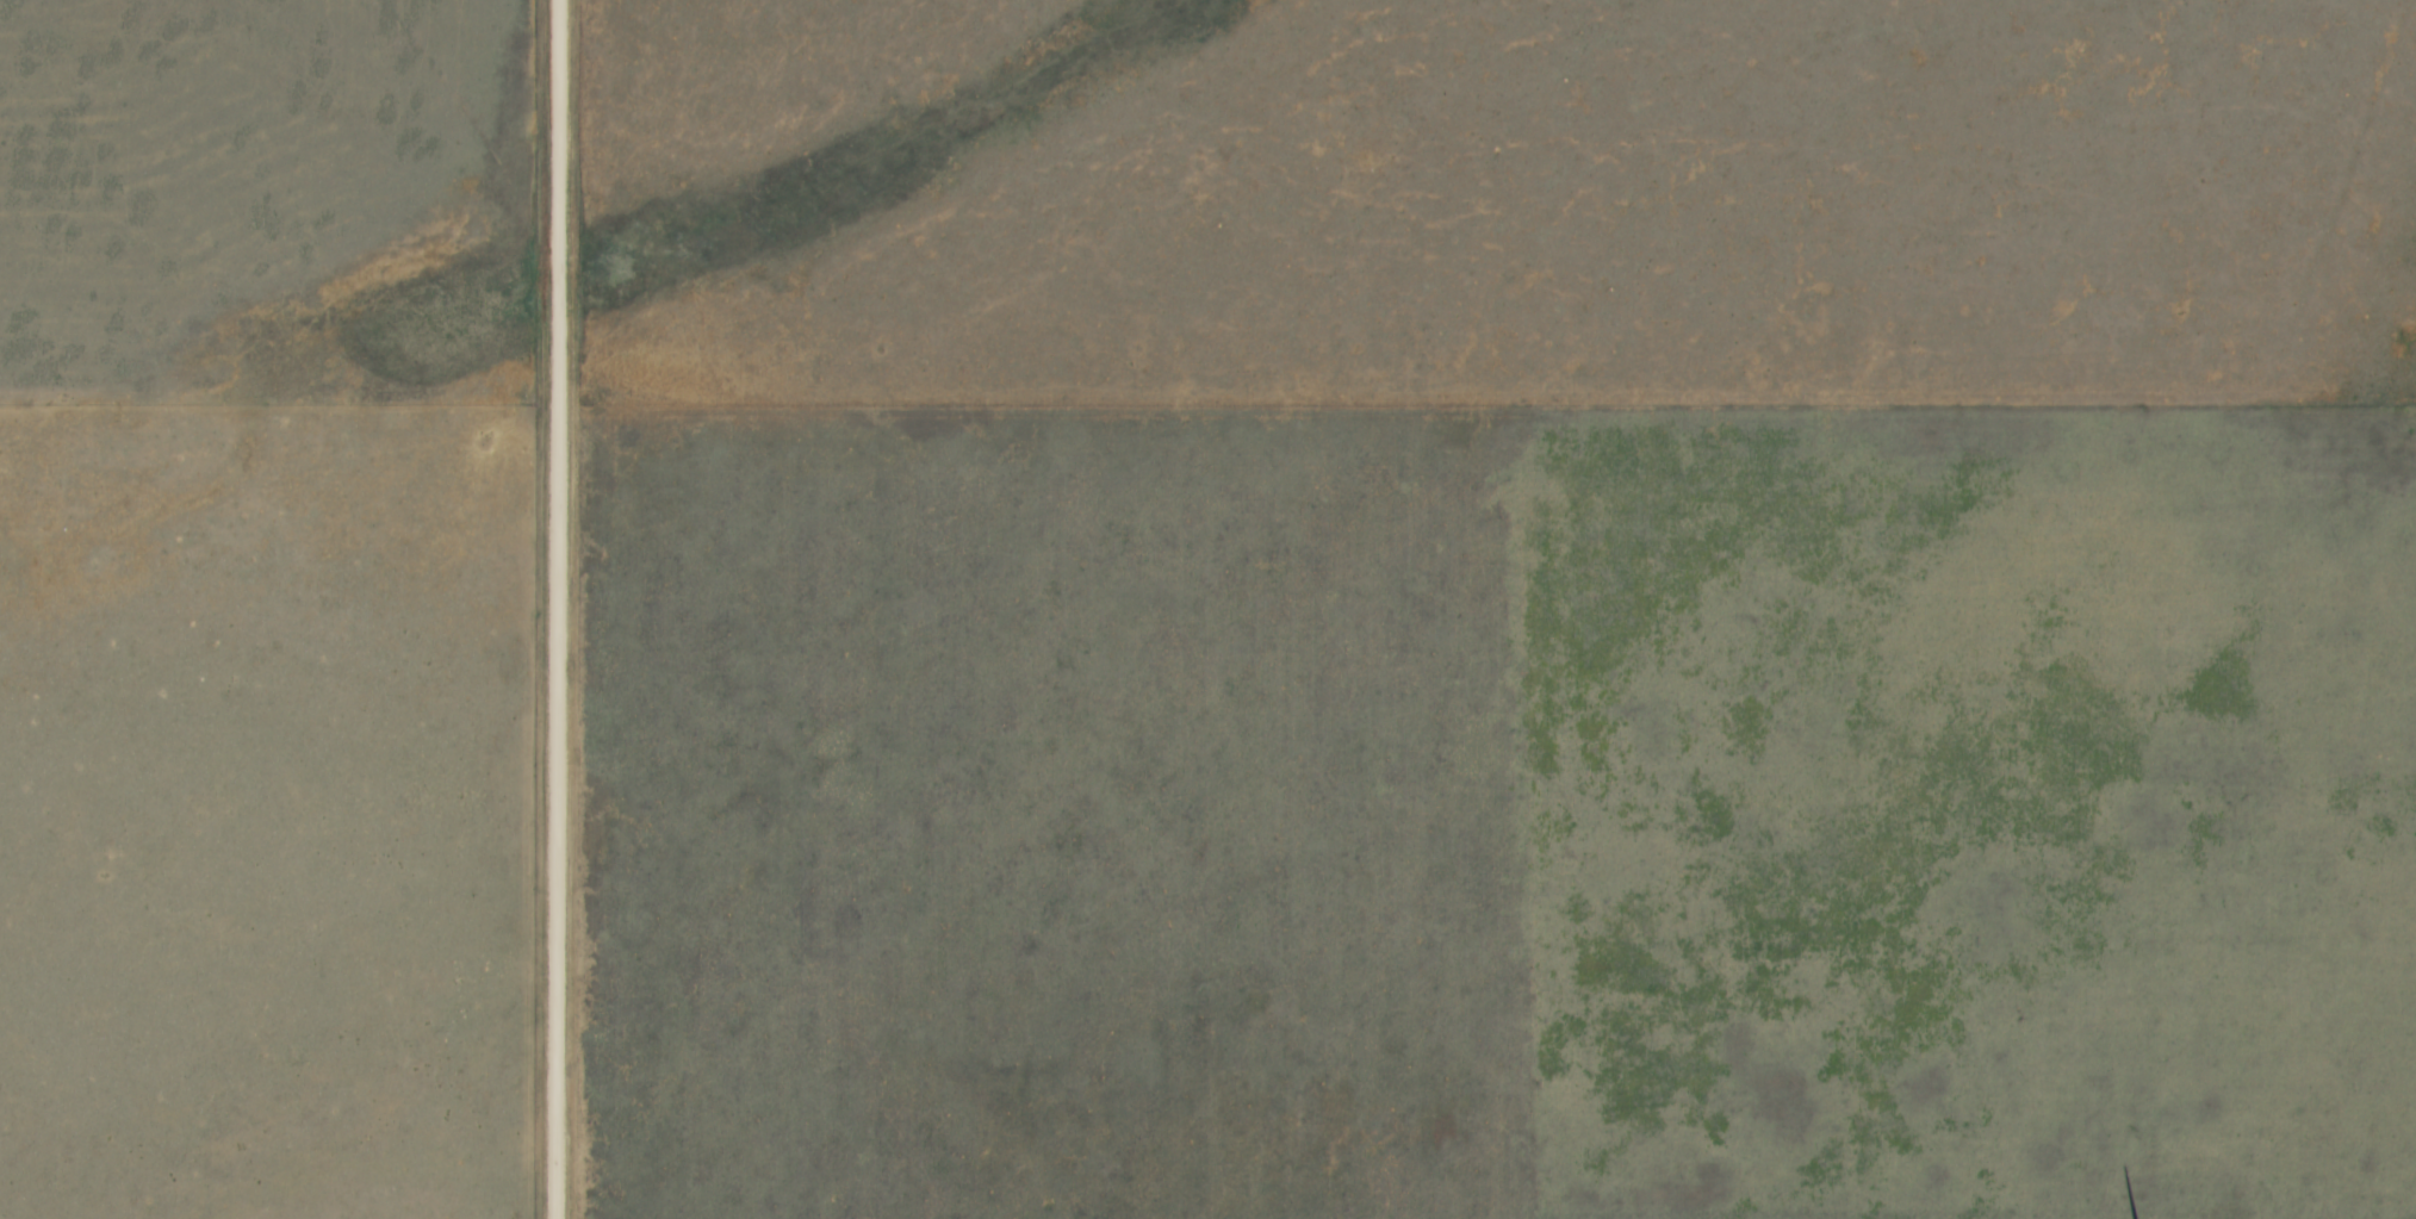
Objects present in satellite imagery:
road: (558, 609)

